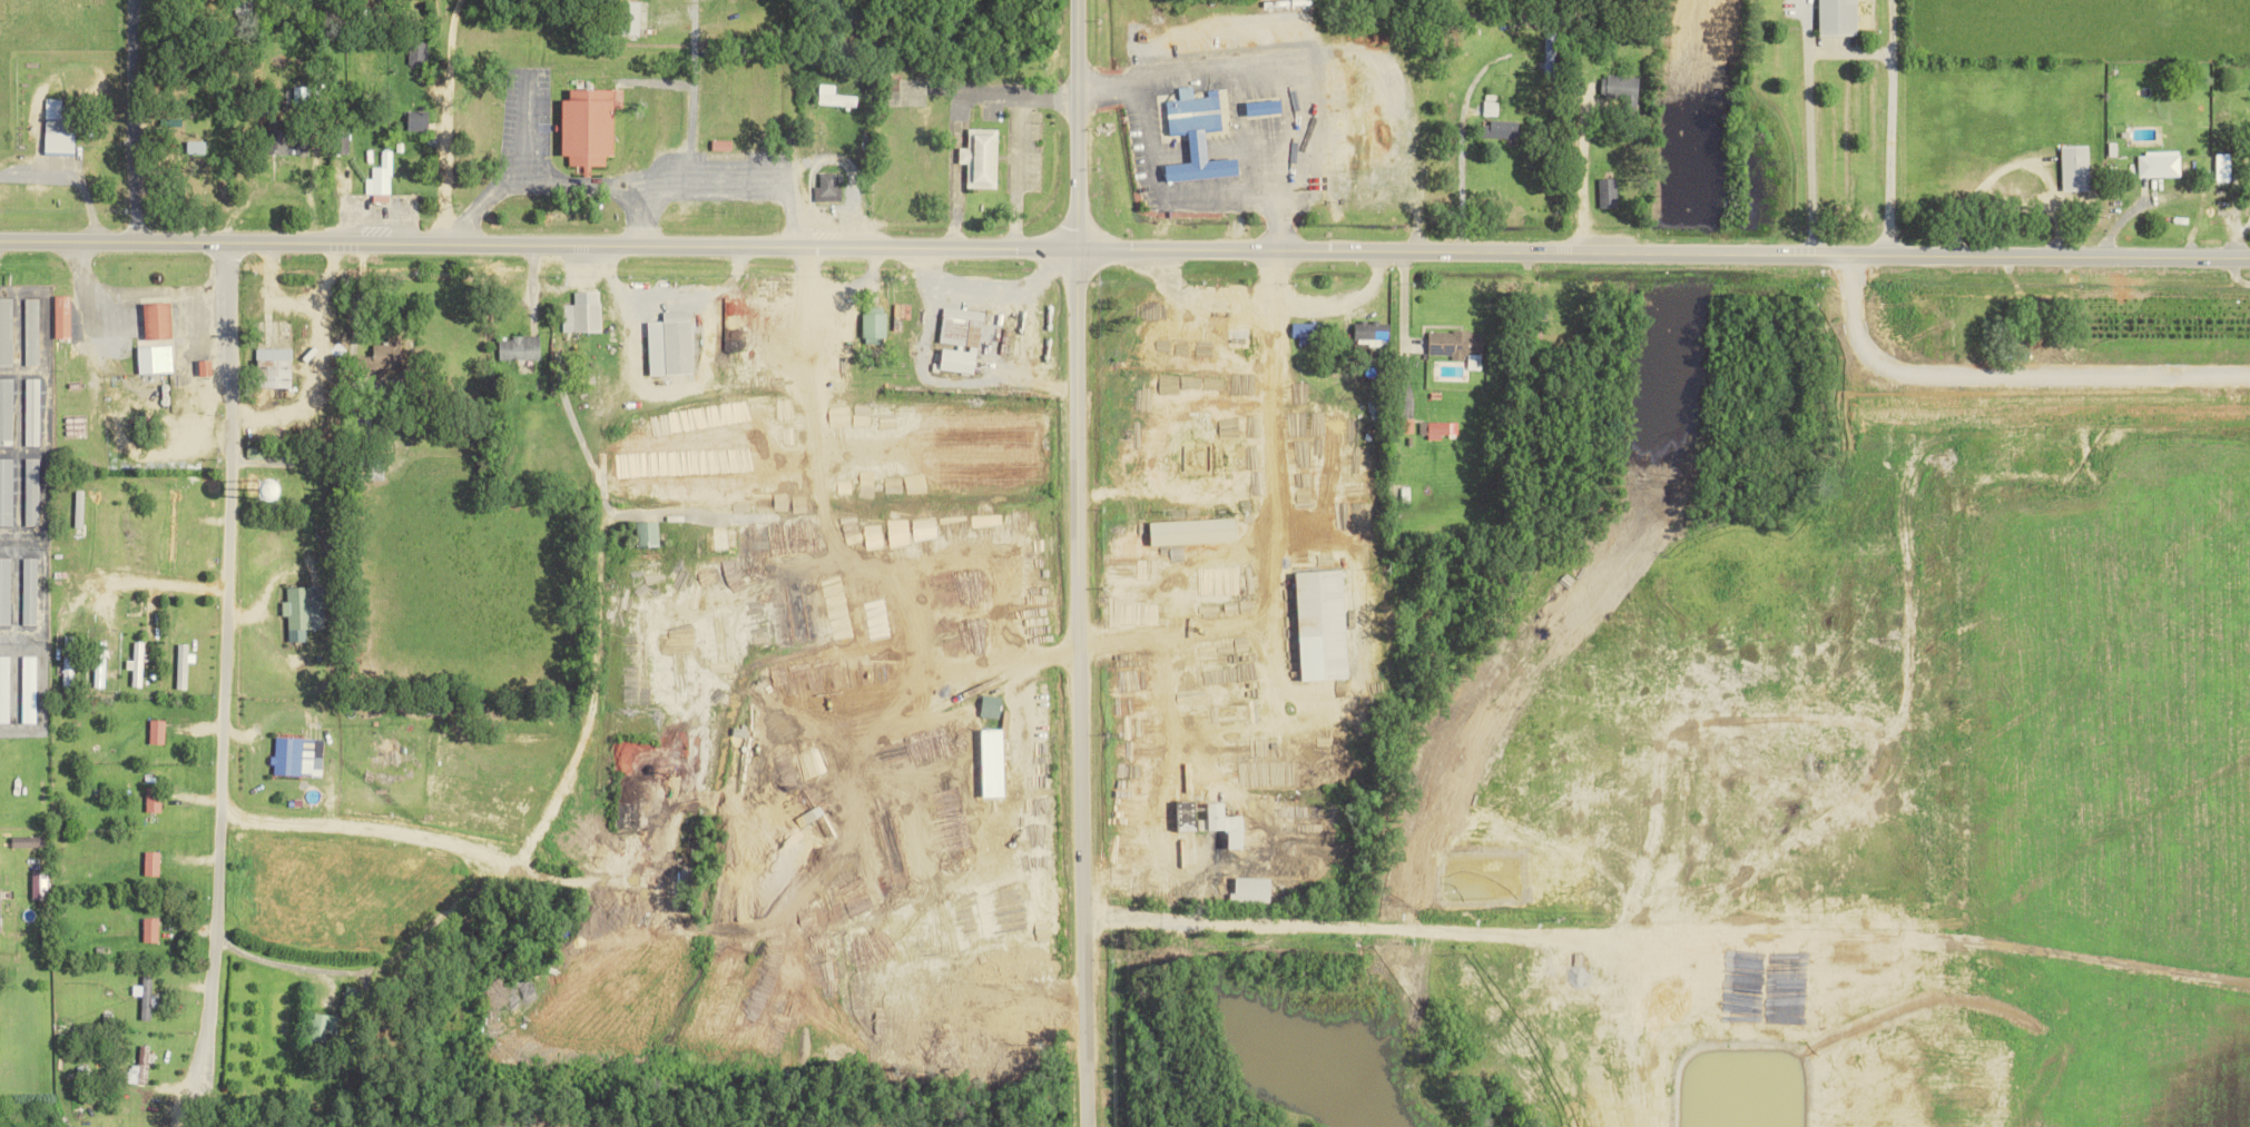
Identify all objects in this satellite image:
building: (1840, 17)
building: (632, 18)
road: (450, 42)
road: (1840, 50)
building: (417, 52)
building: (1551, 55)
building: (1622, 87)
road: (1468, 89)
building: (835, 97)
building: (1492, 105)
road: (433, 107)
building: (1260, 107)
road: (956, 111)
road: (140, 118)
building: (419, 120)
road: (1075, 123)
building: (590, 126)
building: (59, 127)
building: (1502, 129)
building: (1198, 136)
building: (277, 137)
building: (343, 142)
building: (302, 146)
building: (196, 147)
building: (982, 158)
road: (2023, 159)
building: (2160, 164)
building: (2077, 167)
building: (2223, 167)
road: (1015, 169)
road: (69, 176)
road: (1589, 178)
building: (381, 179)
road: (552, 184)
road: (734, 186)
building: (829, 187)
road: (1158, 189)
road: (1463, 192)
building: (1609, 192)
road: (1124, 246)
road: (2236, 273)
road: (990, 285)
road: (127, 289)
road: (1404, 297)
road: (1199, 298)
road: (1320, 306)
building: (583, 313)
building: (62, 316)
building: (159, 320)
building: (962, 326)
building: (874, 327)
building: (6, 330)
building: (31, 332)
building: (1308, 333)
building: (1374, 333)
building: (1240, 334)
building: (2040, 339)
building: (672, 344)
building: (1456, 344)
building: (521, 347)
building: (959, 360)
building: (206, 367)
building: (276, 370)
building: (6, 411)
building: (32, 412)
building: (1440, 429)
building: (288, 490)
building: (6, 492)
building: (31, 492)
building: (1196, 531)
building: (648, 534)
building: (721, 541)
road: (141, 580)
building: (6, 590)
building: (30, 591)
building: (304, 611)
building: (1325, 625)
road: (666, 637)
building: (69, 662)
building: (100, 664)
building: (137, 664)
road: (215, 683)
road: (1075, 686)
building: (4, 689)
building: (29, 690)
building: (992, 706)
road: (589, 713)
building: (158, 731)
building: (298, 757)
building: (990, 767)
building: (154, 800)
building: (1188, 810)
building: (28, 841)
building: (153, 863)
building: (1256, 890)
building: (0, 916)
building: (150, 930)
road: (266, 958)
building: (1752, 965)
building: (147, 998)
building: (323, 1028)
building: (1618, 1050)
building: (1817, 1051)
building: (139, 1068)
building: (1810, 1103)

